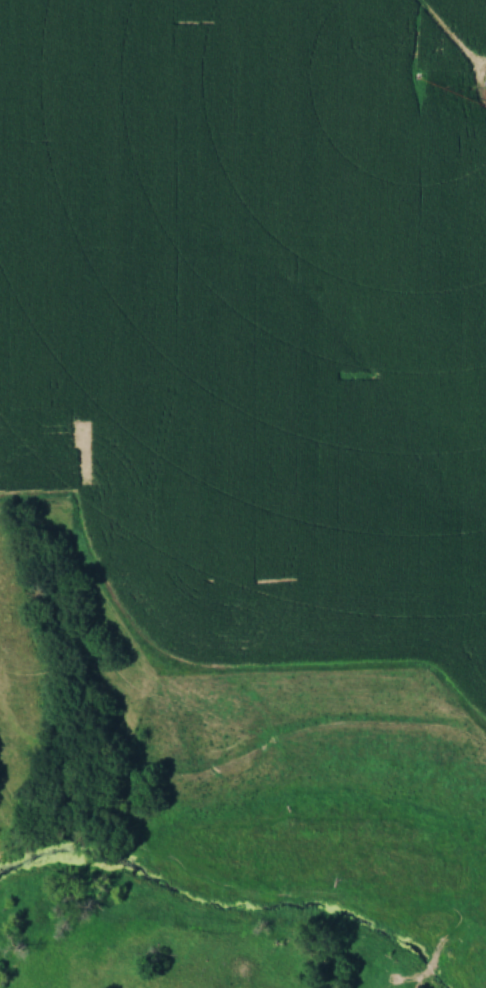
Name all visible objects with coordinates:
river: (229, 907)

